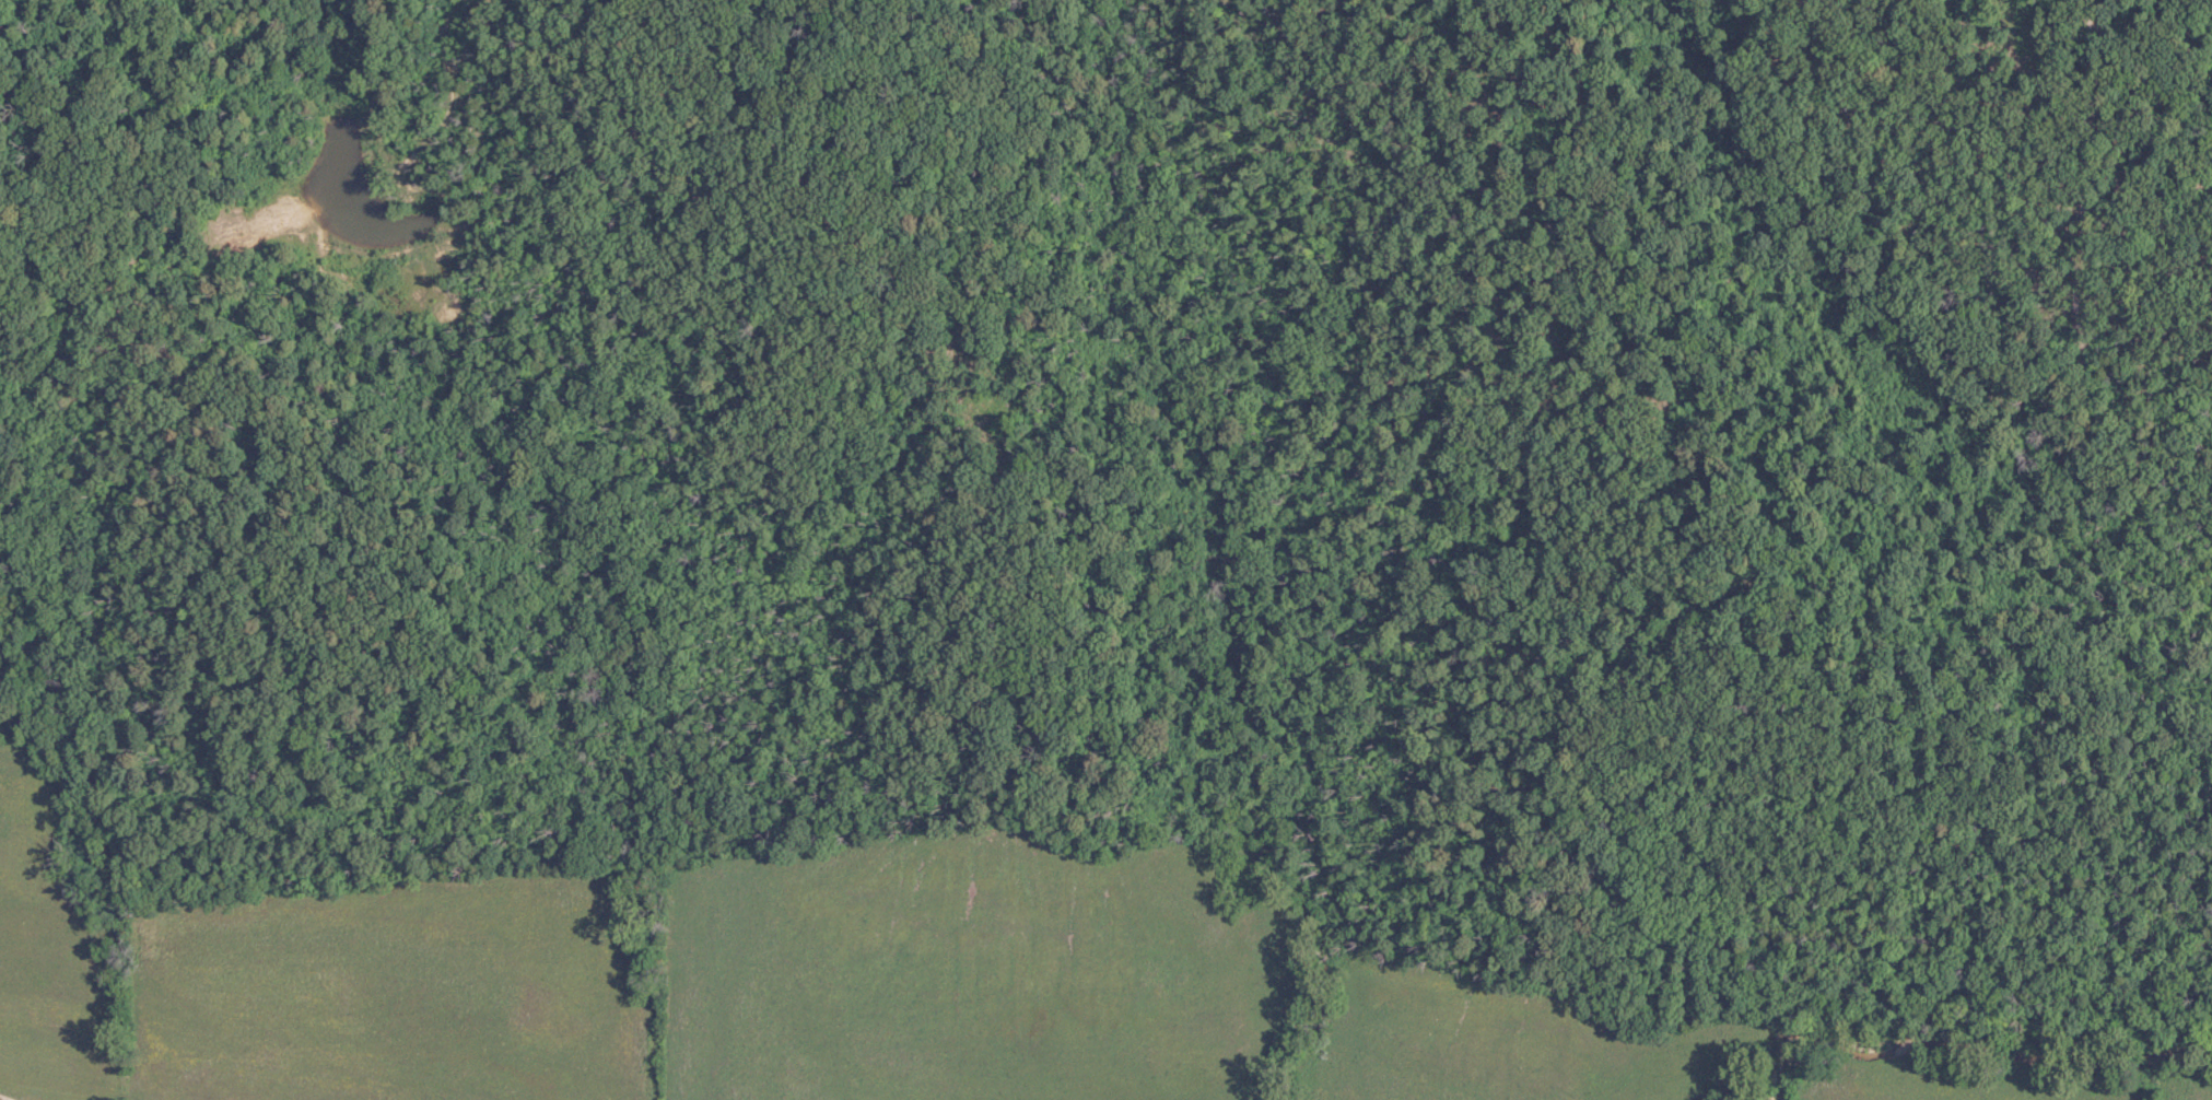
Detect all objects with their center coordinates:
road: (1, 1099)

